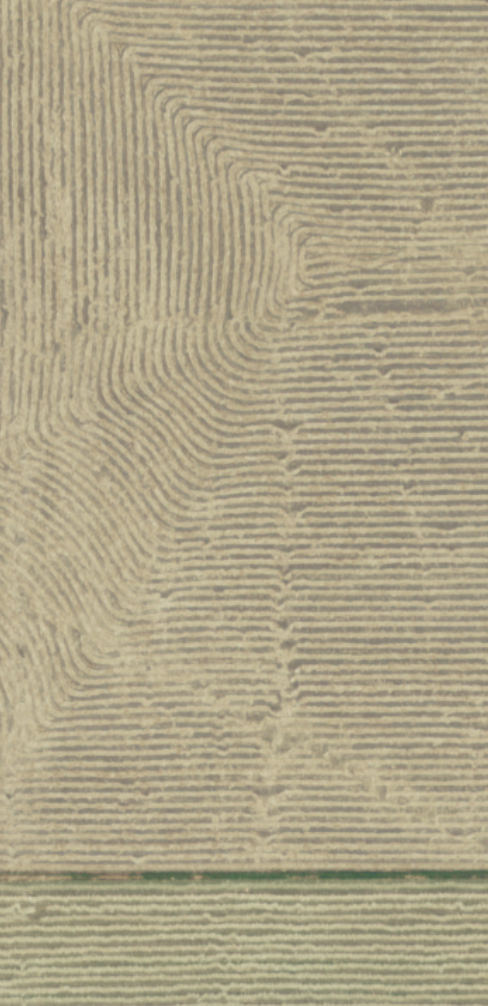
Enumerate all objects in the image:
crop: (244, 503)

